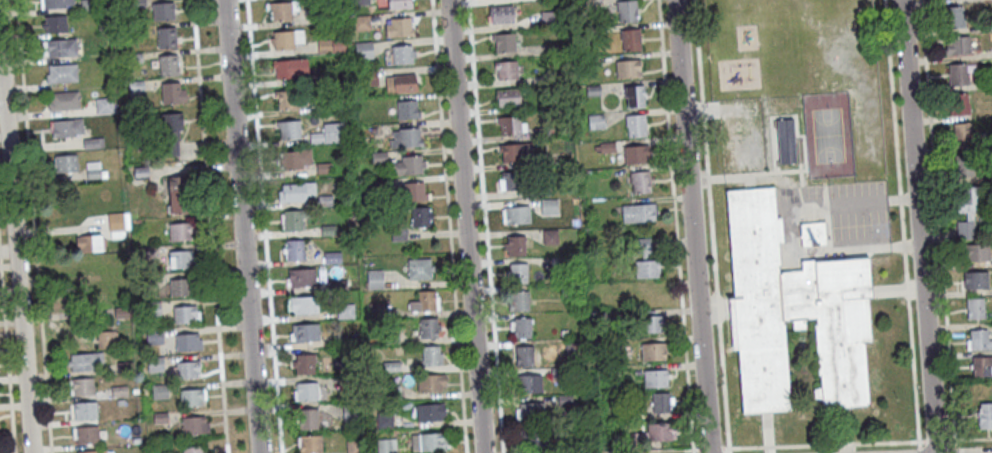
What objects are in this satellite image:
building: (948, 1)
building: (55, 3)
building: (399, 5)
building: (163, 10)
building: (578, 10)
building: (626, 14)
building: (280, 15)
building: (501, 18)
building: (547, 19)
building: (953, 21)
building: (54, 23)
building: (361, 25)
building: (399, 31)
building: (579, 34)
building: (166, 37)
building: (286, 42)
building: (502, 42)
building: (629, 42)
building: (59, 47)
building: (324, 48)
building: (338, 48)
building: (551, 49)
building: (956, 49)
building: (363, 52)
building: (401, 57)
building: (589, 62)
building: (169, 64)
building: (627, 67)
building: (504, 69)
building: (289, 72)
building: (61, 73)
building: (318, 76)
building: (551, 76)
building: (957, 78)
building: (367, 79)
building: (400, 87)
building: (592, 90)
building: (173, 92)
building: (506, 96)
building: (634, 96)
road: (891, 96)
building: (63, 100)
building: (287, 103)
building: (105, 105)
building: (958, 107)
building: (316, 109)
building: (406, 113)
building: (594, 121)
building: (508, 125)
building: (634, 125)
building: (66, 127)
building: (540, 132)
building: (288, 133)
building: (171, 134)
park: (826, 134)
building: (329, 136)
building: (963, 139)
building: (785, 140)
building: (409, 141)
building: (95, 142)
building: (605, 145)
building: (510, 153)
building: (634, 153)
building: (379, 160)
building: (295, 162)
building: (65, 163)
building: (94, 169)
building: (407, 169)
building: (963, 169)
building: (323, 170)
road: (719, 176)
building: (505, 179)
building: (639, 181)
building: (380, 186)
building: (537, 191)
building: (179, 194)
building: (297, 195)
building: (414, 195)
road: (899, 196)
road: (873, 199)
building: (966, 199)
building: (324, 202)
building: (547, 208)
building: (636, 212)
building: (515, 215)
building: (420, 220)
road: (901, 220)
building: (118, 221)
building: (294, 223)
road: (709, 223)
road: (33, 226)
road: (210, 226)
road: (241, 226)
road: (264, 226)
road: (448, 226)
road: (465, 226)
road: (484, 226)
road: (674, 226)
road: (691, 226)
road: (918, 226)
road: (938, 226)
parking lot: (857, 227)
road: (17, 230)
building: (179, 231)
building: (327, 232)
building: (965, 233)
building: (812, 234)
building: (397, 236)
building: (548, 237)
building: (89, 243)
road: (902, 243)
building: (514, 246)
building: (641, 246)
road: (857, 247)
building: (294, 253)
building: (975, 257)
building: (181, 259)
building: (332, 260)
building: (558, 264)
building: (418, 268)
building: (645, 270)
building: (516, 273)
building: (302, 280)
building: (373, 280)
building: (975, 284)
building: (180, 286)
building: (338, 287)
building: (566, 293)
building: (649, 295)
building: (425, 299)
building: (517, 301)
building: (304, 307)
building: (793, 309)
building: (375, 310)
building: (974, 313)
building: (186, 314)
building: (345, 314)
building: (602, 320)
building: (650, 326)
building: (427, 327)
building: (521, 328)
building: (306, 336)
building: (154, 337)
building: (105, 339)
building: (390, 339)
building: (188, 341)
building: (338, 341)
road: (910, 344)
building: (977, 345)
building: (652, 353)
building: (572, 354)
road: (7, 355)
building: (430, 355)
building: (522, 357)
building: (84, 361)
building: (302, 364)
building: (390, 367)
building: (184, 369)
building: (980, 371)
building: (556, 373)
building: (653, 379)
building: (429, 382)
building: (527, 385)
building: (82, 386)
building: (304, 392)
building: (391, 393)
building: (192, 397)
building: (563, 401)
building: (659, 402)
building: (84, 410)
building: (429, 412)
building: (531, 412)
building: (350, 413)
building: (307, 418)
building: (383, 420)
building: (984, 420)
building: (194, 424)
building: (658, 432)
building: (85, 434)
building: (533, 438)
road: (973, 438)
road: (936, 439)
building: (431, 442)
building: (309, 443)
building: (577, 443)
road: (822, 443)
building: (354, 445)
building: (385, 446)
road: (724, 446)
road: (918, 446)
road: (709, 447)
road: (695, 448)
building: (195, 449)
road: (727, 449)
road: (624, 450)
building: (95, 451)
road: (728, 452)

